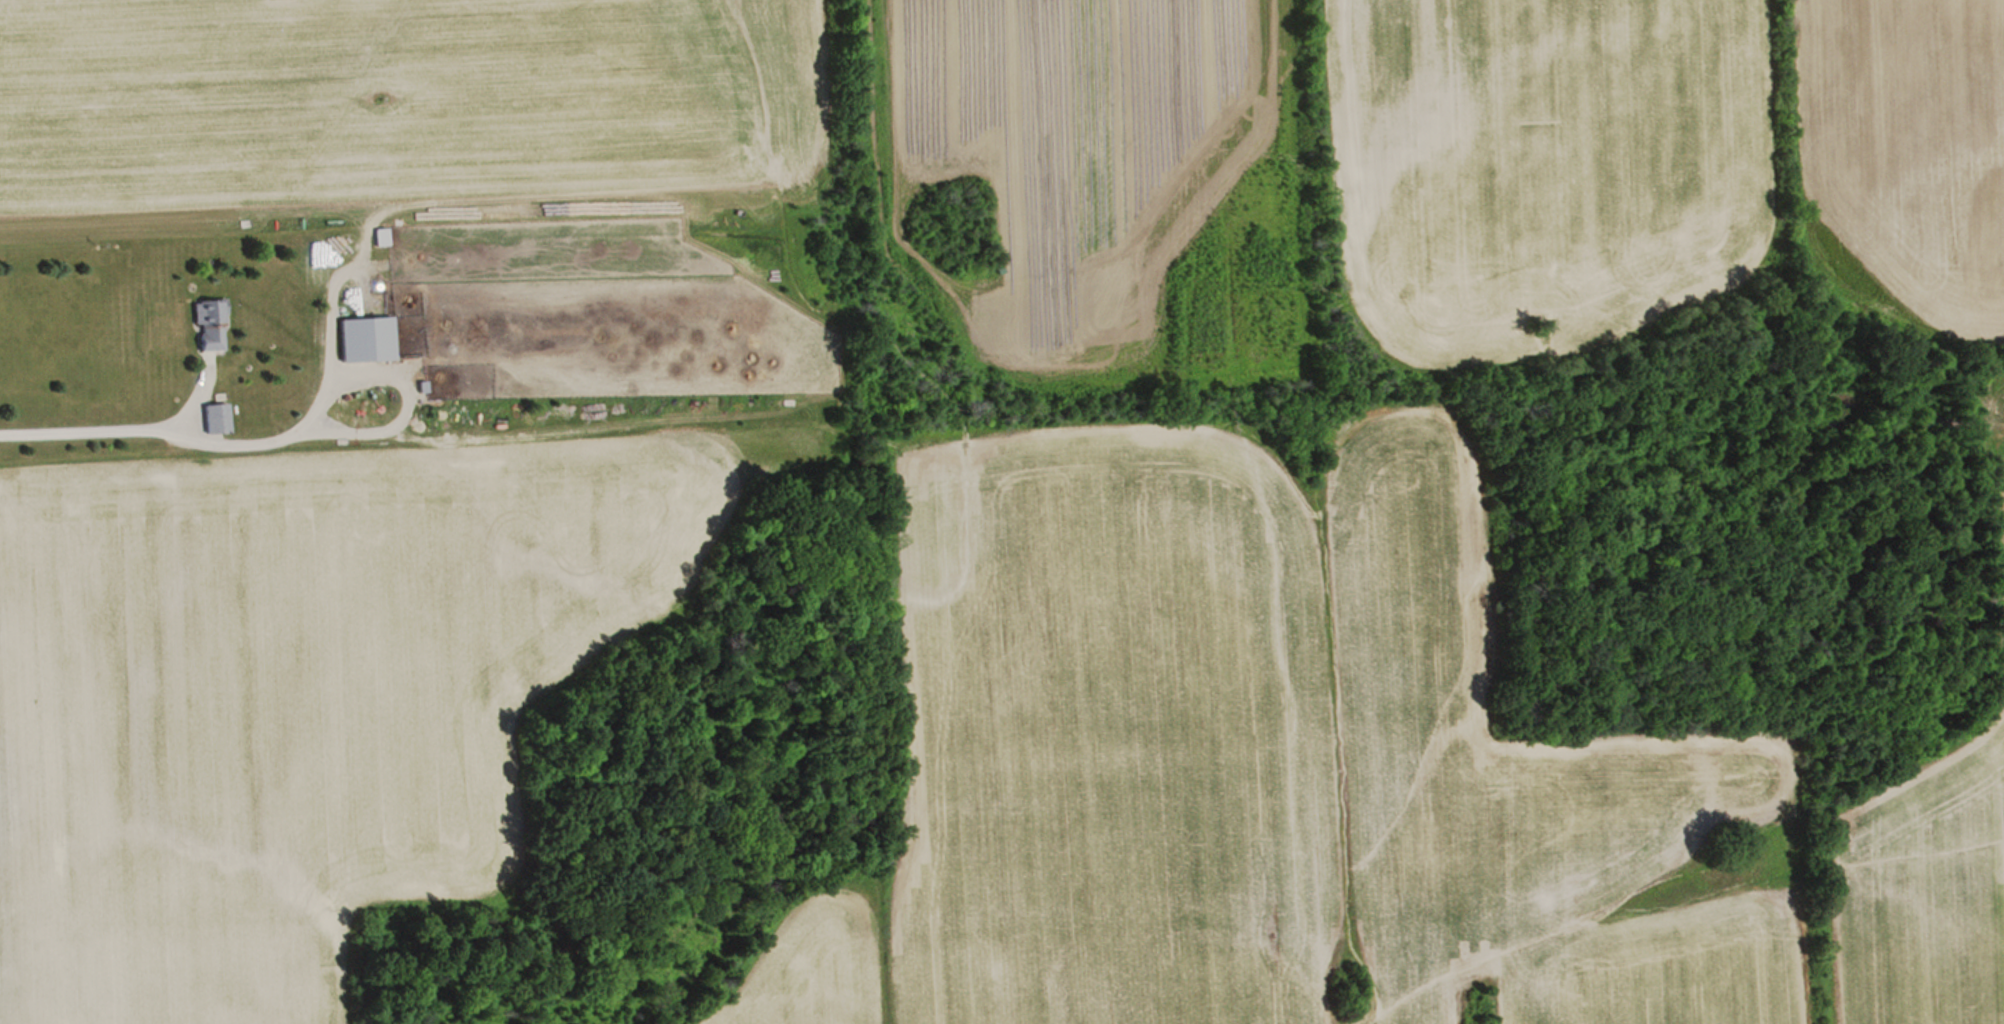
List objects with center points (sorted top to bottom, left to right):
building: (211, 323)
building: (218, 418)

